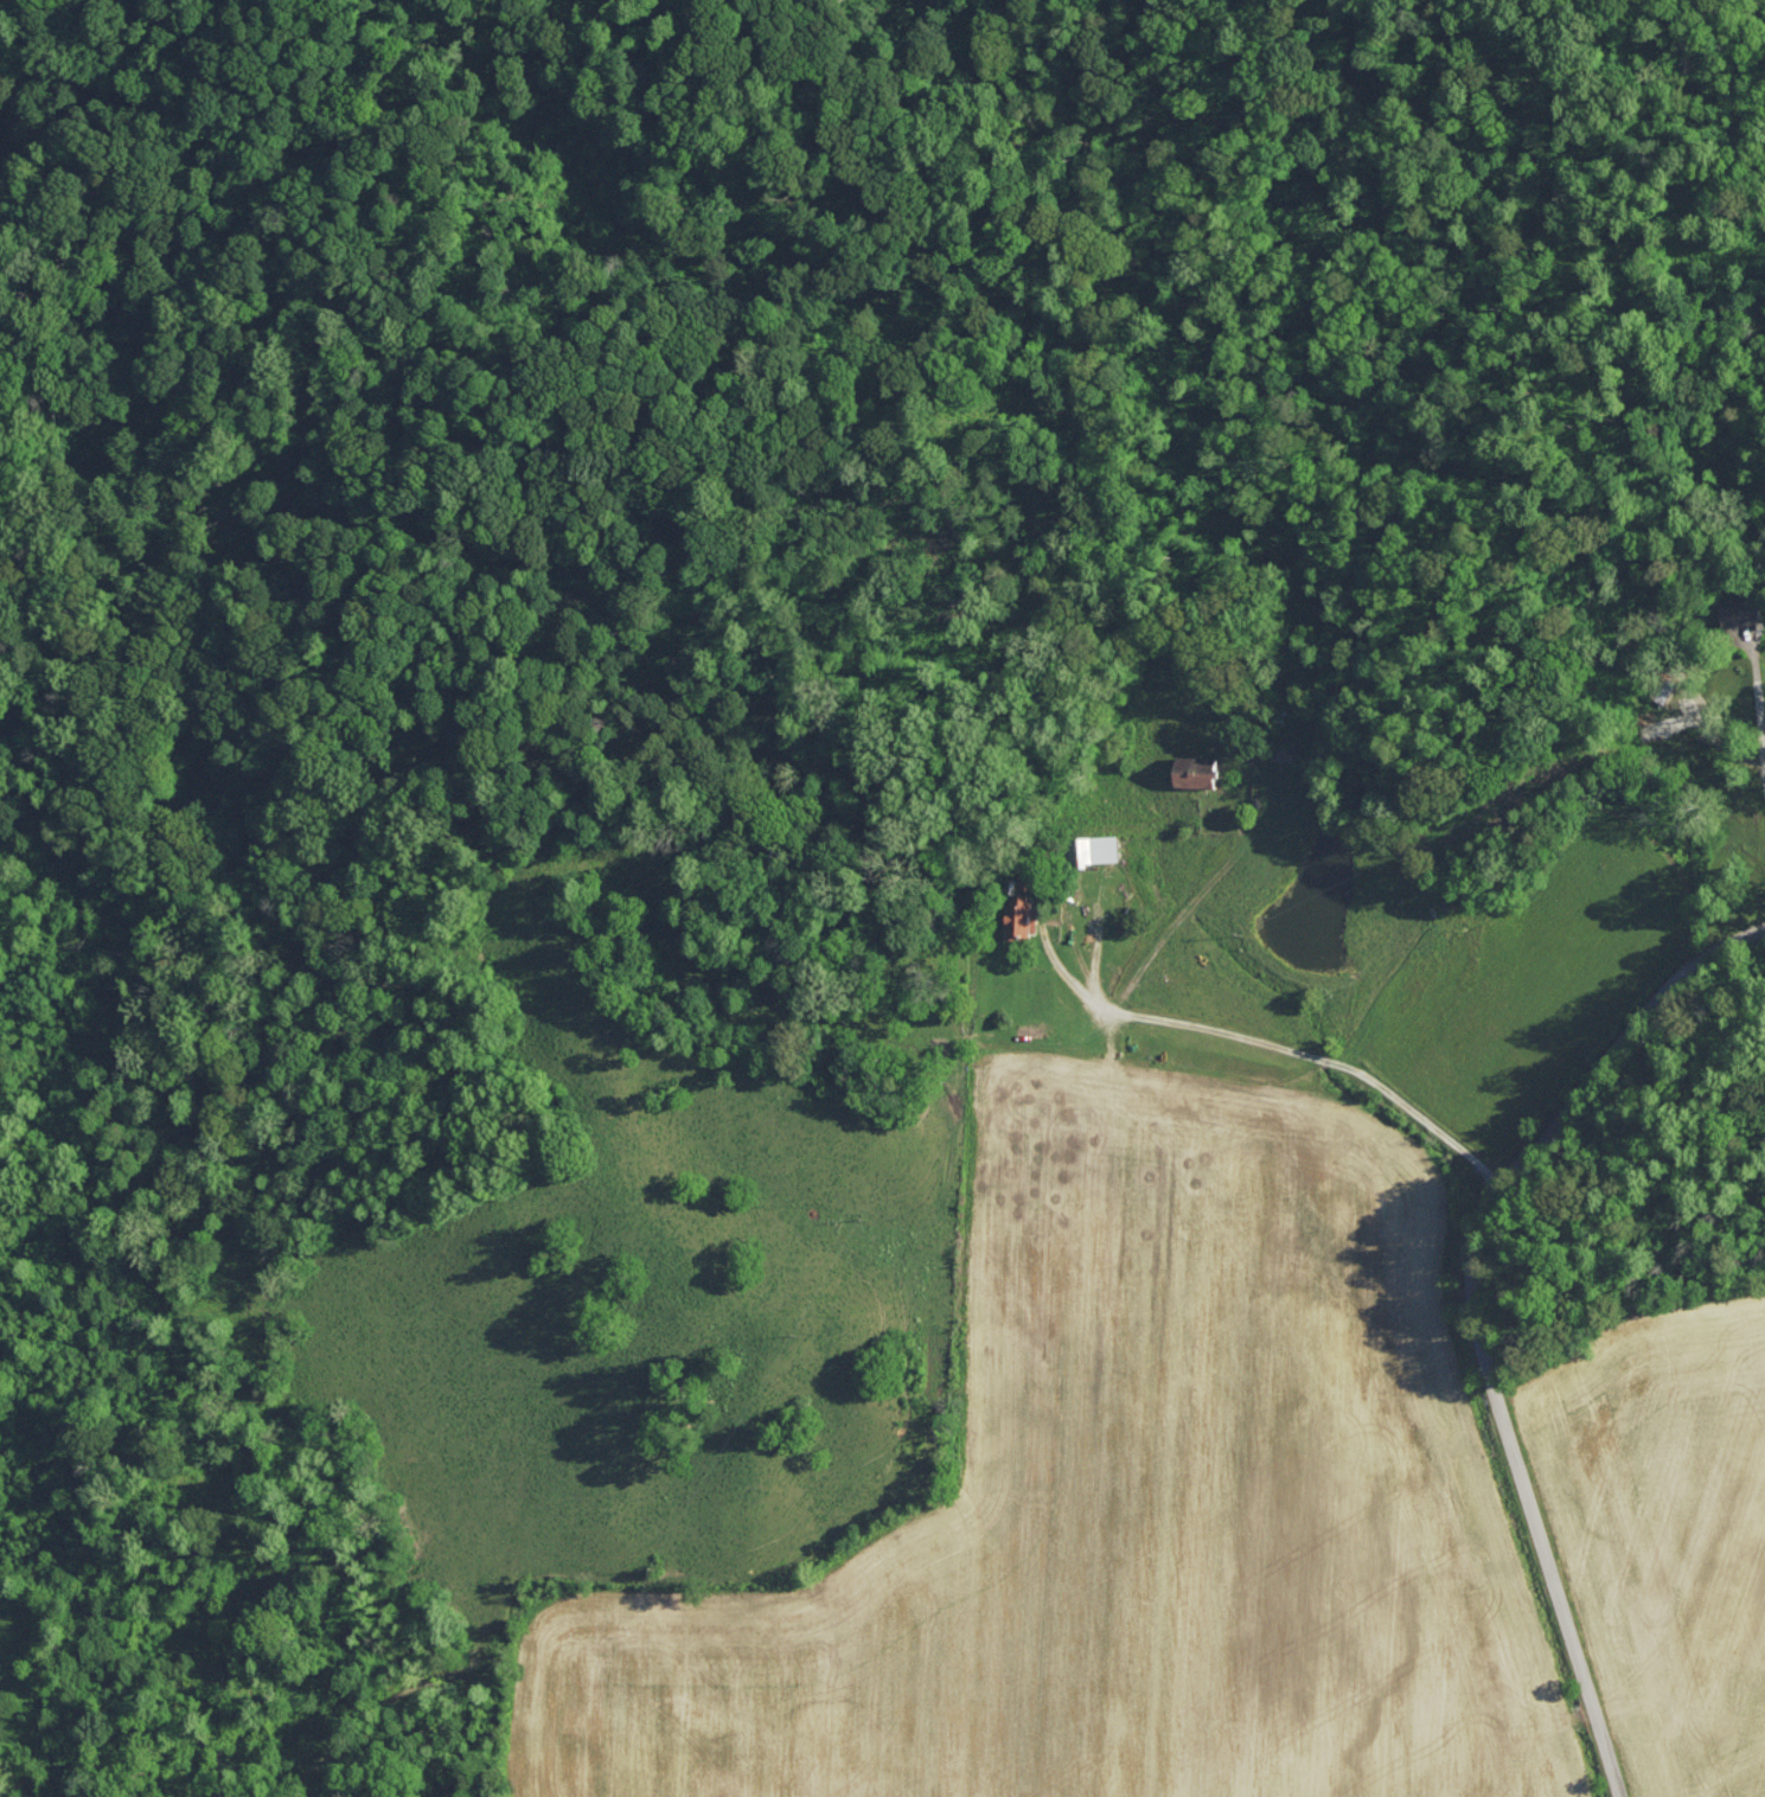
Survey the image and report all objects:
building: (1739, 612)
building: (1194, 770)
building: (1093, 850)
building: (1017, 915)
road: (1275, 1031)
road: (1478, 1309)

